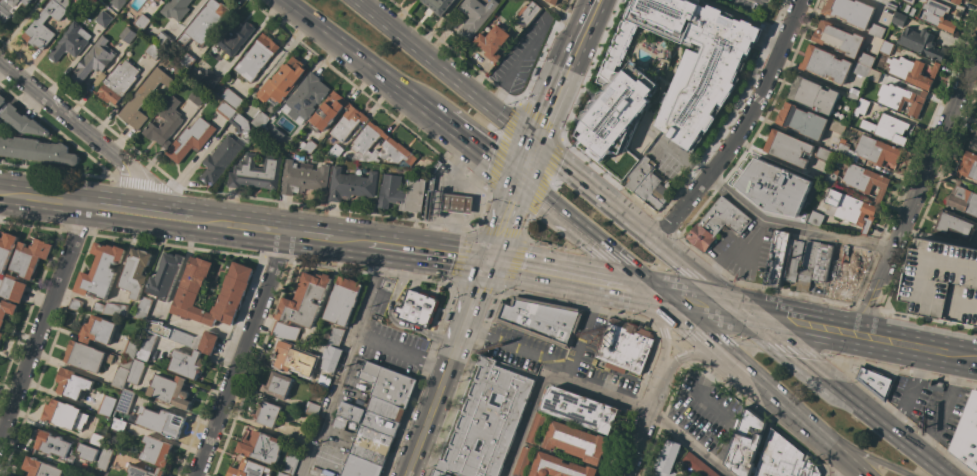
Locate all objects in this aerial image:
building: (157, 0)
building: (160, 0)
building: (80, 1)
building: (551, 1)
building: (909, 1)
building: (956, 1)
building: (117, 3)
building: (438, 5)
parking lot: (747, 6)
building: (891, 6)
building: (10, 8)
building: (175, 9)
building: (850, 11)
building: (528, 13)
building: (936, 15)
building: (474, 16)
building: (103, 19)
building: (899, 19)
building: (142, 21)
road: (584, 21)
building: (205, 23)
road: (19, 24)
building: (38, 29)
building: (876, 30)
building: (127, 35)
building: (234, 36)
building: (838, 38)
building: (163, 40)
building: (70, 42)
building: (492, 42)
building: (921, 43)
building: (887, 48)
building: (154, 52)
building: (256, 58)
road: (361, 59)
building: (94, 60)
building: (187, 60)
building: (866, 60)
building: (825, 64)
road: (447, 70)
building: (862, 70)
building: (911, 71)
building: (666, 72)
building: (874, 76)
building: (209, 78)
building: (118, 82)
building: (281, 82)
road: (554, 90)
building: (855, 91)
building: (813, 94)
building: (197, 96)
building: (308, 96)
building: (852, 96)
building: (144, 97)
building: (231, 98)
building: (2, 99)
building: (900, 99)
building: (861, 107)
building: (226, 111)
building: (328, 111)
road: (511, 117)
building: (259, 119)
building: (21, 121)
building: (802, 121)
building: (165, 123)
building: (240, 123)
building: (347, 123)
building: (976, 126)
road: (740, 127)
building: (837, 127)
building: (887, 128)
road: (82, 130)
building: (190, 139)
traffic signals: (536, 140)
building: (973, 141)
building: (362, 144)
building: (308, 146)
building: (787, 147)
road: (480, 148)
road: (934, 148)
building: (36, 150)
building: (334, 151)
building: (869, 151)
building: (823, 154)
road: (684, 157)
building: (220, 159)
road: (527, 160)
road: (562, 161)
building: (436, 166)
building: (968, 166)
road: (58, 171)
building: (255, 172)
building: (639, 174)
building: (831, 176)
building: (303, 177)
road: (607, 177)
building: (819, 177)
road: (544, 179)
traffic signals: (519, 180)
building: (865, 180)
road: (148, 183)
building: (351, 184)
building: (773, 187)
building: (652, 191)
building: (402, 193)
building: (430, 198)
road: (43, 199)
building: (962, 199)
building: (457, 203)
road: (110, 208)
building: (850, 209)
road: (345, 210)
road: (163, 215)
building: (815, 218)
road: (504, 220)
building: (717, 224)
road: (29, 225)
road: (239, 225)
building: (954, 225)
road: (666, 226)
road: (791, 228)
road: (496, 229)
road: (75, 231)
road: (308, 235)
road: (585, 236)
road: (350, 240)
road: (539, 242)
road: (177, 246)
road: (664, 247)
road: (732, 248)
road: (429, 251)
building: (5, 252)
building: (29, 258)
road: (705, 258)
building: (778, 259)
road: (277, 260)
building: (793, 260)
traffic signals: (489, 261)
building: (814, 264)
road: (654, 265)
road: (330, 267)
building: (100, 271)
building: (135, 272)
road: (375, 273)
building: (847, 275)
building: (165, 276)
road: (570, 276)
road: (417, 279)
building: (943, 281)
parking lot: (943, 281)
building: (13, 288)
road: (473, 290)
building: (233, 292)
road: (873, 292)
traffic signals: (652, 293)
road: (793, 293)
building: (305, 301)
building: (342, 301)
road: (696, 302)
building: (75, 304)
road: (579, 304)
building: (97, 308)
building: (144, 308)
building: (417, 308)
road: (867, 308)
building: (6, 309)
building: (115, 309)
traffic signals: (740, 311)
road: (390, 316)
building: (541, 319)
road: (43, 320)
road: (929, 320)
road: (798, 322)
building: (97, 330)
building: (285, 331)
building: (1, 336)
building: (334, 336)
building: (185, 337)
road: (740, 343)
building: (146, 346)
building: (625, 346)
road: (916, 346)
parking lot: (390, 347)
building: (131, 348)
road: (513, 349)
road: (785, 349)
road: (399, 352)
road: (239, 354)
building: (86, 357)
building: (294, 359)
building: (331, 359)
road: (730, 359)
road: (342, 361)
building: (187, 364)
road: (446, 368)
road: (902, 370)
building: (135, 372)
building: (121, 373)
road: (550, 373)
building: (875, 381)
building: (323, 382)
building: (72, 384)
building: (388, 384)
building: (278, 385)
building: (936, 386)
building: (169, 391)
road: (651, 397)
building: (125, 402)
building: (106, 405)
building: (381, 408)
building: (311, 409)
building: (579, 409)
road: (646, 409)
building: (266, 414)
building: (64, 415)
building: (367, 419)
building: (487, 421)
building: (159, 422)
building: (339, 423)
building: (119, 425)
building: (535, 428)
road: (887, 431)
building: (966, 433)
building: (98, 436)
building: (303, 436)
building: (576, 442)
building: (745, 443)
building: (54, 445)
building: (371, 445)
building: (261, 447)
road: (834, 451)
road: (855, 451)
building: (87, 452)
building: (156, 452)
building: (783, 458)
building: (104, 459)
building: (666, 459)
building: (523, 461)
building: (290, 463)
building: (698, 465)
building: (360, 467)
building: (558, 467)
building: (975, 467)
building: (40, 468)
building: (249, 469)
building: (137, 471)
road: (849, 471)
building: (159, 472)
building: (437, 473)
building: (514, 475)
building: (689, 475)

